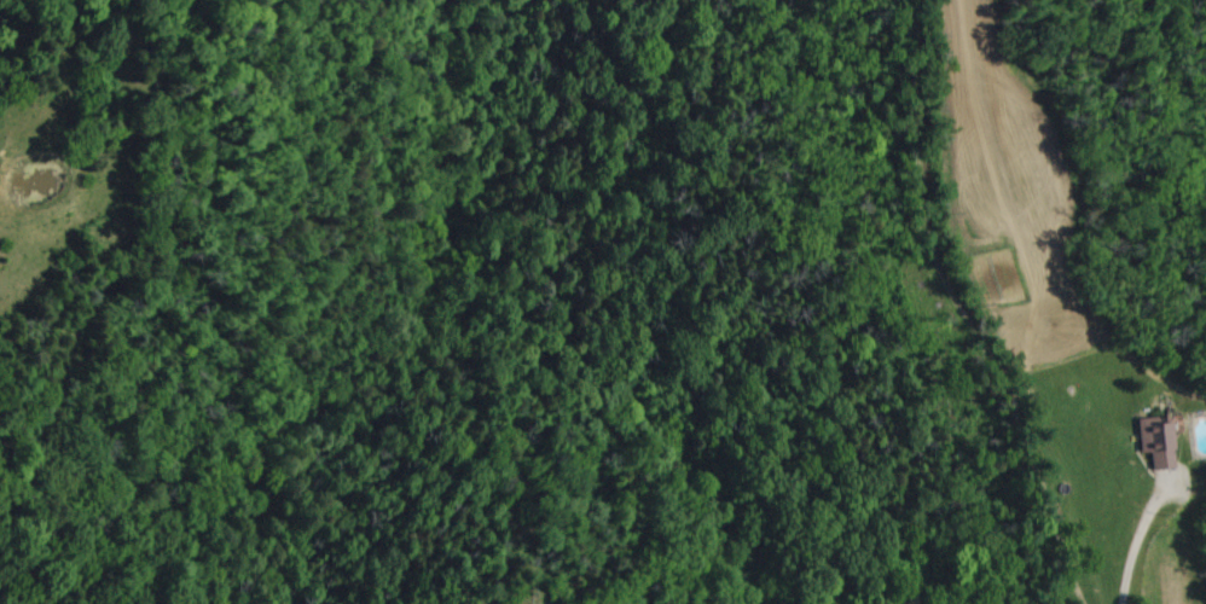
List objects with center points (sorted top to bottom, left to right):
road: (1170, 562)

